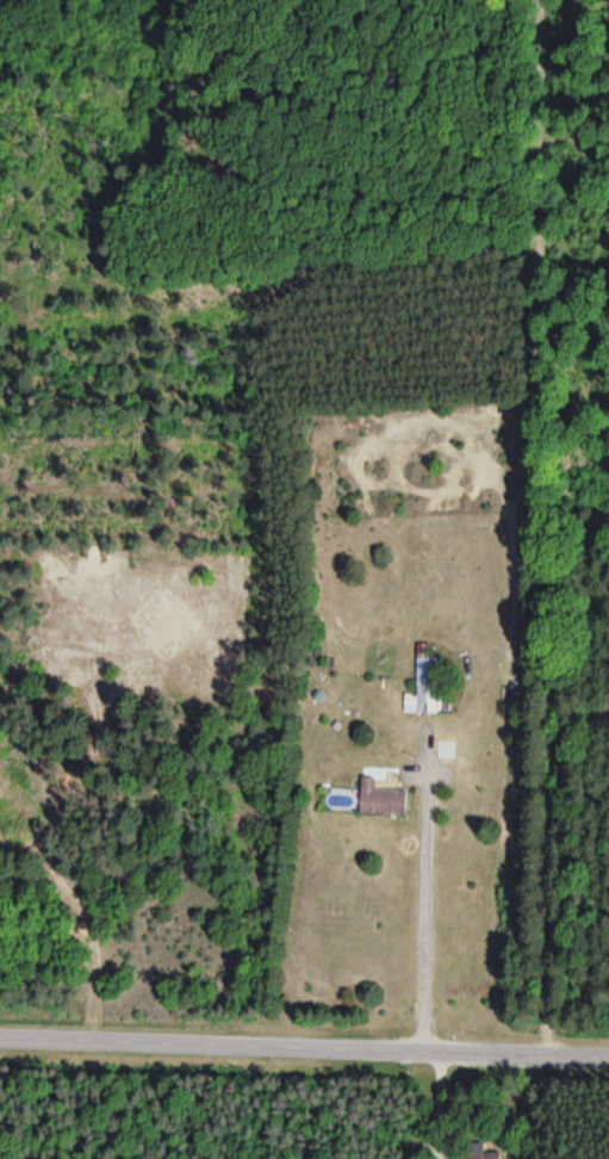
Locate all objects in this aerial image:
building: (425, 687)
building: (377, 799)
road: (304, 1045)
building: (468, 1151)

